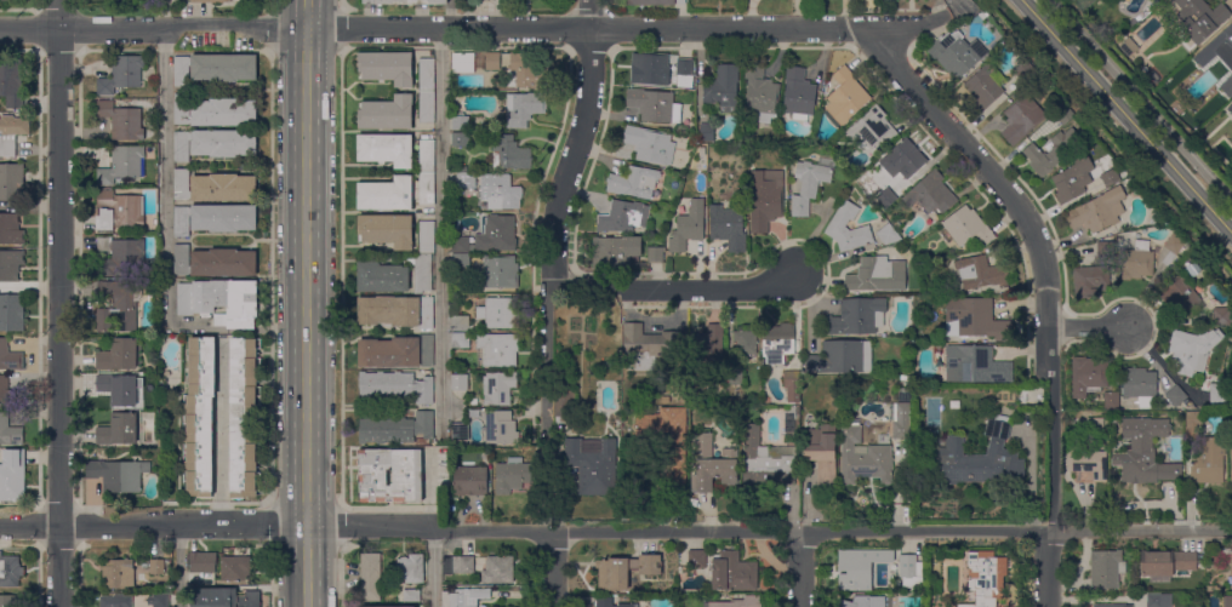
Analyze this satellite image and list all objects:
building: (1073, 0)
building: (1157, 0)
building: (211, 1)
building: (405, 1)
building: (649, 2)
building: (680, 2)
building: (1197, 21)
road: (472, 28)
building: (1129, 47)
building: (1217, 51)
building: (956, 53)
building: (468, 62)
building: (492, 62)
building: (213, 68)
building: (387, 68)
building: (650, 69)
building: (685, 69)
building: (1023, 70)
building: (527, 71)
building: (121, 74)
building: (426, 74)
building: (11, 81)
building: (985, 87)
building: (723, 88)
building: (798, 93)
building: (760, 95)
building: (845, 96)
road: (1140, 101)
building: (654, 105)
building: (427, 108)
building: (524, 108)
building: (213, 111)
building: (1230, 111)
building: (387, 113)
building: (1063, 115)
building: (1021, 119)
building: (121, 121)
building: (460, 122)
building: (872, 127)
building: (706, 132)
building: (11, 133)
building: (460, 139)
building: (213, 143)
road: (576, 143)
building: (650, 144)
building: (832, 145)
building: (386, 149)
building: (1051, 151)
building: (509, 153)
building: (426, 156)
building: (907, 158)
building: (122, 165)
road: (164, 176)
building: (1111, 177)
building: (1073, 178)
building: (466, 179)
building: (892, 179)
building: (10, 181)
building: (633, 183)
building: (810, 183)
building: (213, 187)
building: (426, 189)
building: (498, 193)
building: (386, 194)
building: (930, 194)
building: (885, 197)
building: (765, 199)
building: (119, 210)
building: (1097, 211)
building: (622, 217)
building: (1157, 217)
building: (213, 218)
road: (270, 224)
building: (837, 225)
building: (728, 227)
building: (688, 228)
building: (966, 228)
building: (10, 229)
building: (387, 230)
road: (441, 230)
building: (496, 234)
building: (886, 234)
building: (426, 236)
building: (460, 244)
building: (1173, 247)
building: (1105, 248)
building: (615, 252)
building: (655, 254)
building: (120, 256)
building: (460, 260)
building: (1135, 260)
building: (213, 262)
building: (10, 265)
building: (421, 271)
building: (500, 271)
building: (980, 273)
building: (877, 275)
road: (341, 277)
building: (382, 277)
building: (1090, 281)
road: (1046, 286)
road: (680, 288)
building: (1185, 294)
building: (219, 302)
road: (58, 303)
road: (307, 303)
building: (118, 305)
building: (395, 311)
building: (11, 313)
building: (500, 313)
building: (857, 316)
building: (1222, 316)
building: (975, 319)
building: (461, 323)
road: (1091, 327)
road: (234, 331)
building: (144, 337)
building: (460, 340)
building: (777, 342)
building: (745, 343)
building: (707, 345)
building: (648, 347)
building: (1192, 349)
building: (496, 350)
building: (397, 351)
building: (119, 355)
building: (10, 356)
road: (546, 356)
building: (842, 356)
building: (975, 365)
building: (734, 377)
building: (1088, 377)
building: (458, 382)
building: (395, 385)
building: (792, 385)
building: (1140, 385)
building: (498, 388)
building: (120, 389)
building: (679, 393)
building: (8, 394)
building: (903, 394)
building: (1217, 395)
building: (1175, 396)
building: (1111, 400)
building: (563, 406)
building: (244, 417)
building: (199, 419)
building: (900, 419)
building: (789, 424)
building: (498, 426)
building: (1095, 426)
building: (395, 429)
building: (118, 430)
building: (8, 431)
building: (460, 431)
building: (667, 440)
building: (160, 442)
building: (821, 452)
building: (1143, 452)
building: (1205, 453)
building: (1231, 456)
building: (977, 457)
building: (863, 458)
building: (537, 460)
building: (765, 460)
building: (1086, 460)
building: (712, 465)
building: (593, 466)
building: (115, 471)
building: (512, 475)
building: (12, 476)
building: (372, 479)
building: (470, 481)
building: (118, 503)
road: (272, 520)
road: (341, 525)
road: (615, 531)
building: (1226, 556)
building: (203, 562)
building: (1167, 562)
building: (462, 565)
road: (181, 566)
building: (156, 567)
building: (235, 567)
road: (434, 567)
building: (861, 567)
building: (411, 568)
road: (552, 568)
building: (1105, 568)
building: (497, 569)
building: (725, 569)
road: (800, 569)
building: (909, 569)
building: (10, 571)
building: (624, 571)
building: (116, 573)
road: (272, 573)
building: (981, 573)
road: (342, 574)
building: (1200, 574)
building: (370, 577)
building: (1209, 589)
building: (411, 595)
building: (223, 597)
building: (467, 597)
building: (8, 600)
building: (158, 600)
building: (1158, 600)
building: (115, 601)
building: (863, 601)
building: (1227, 601)
building: (610, 602)
building: (737, 602)
building: (400, 606)
building: (1112, 606)

